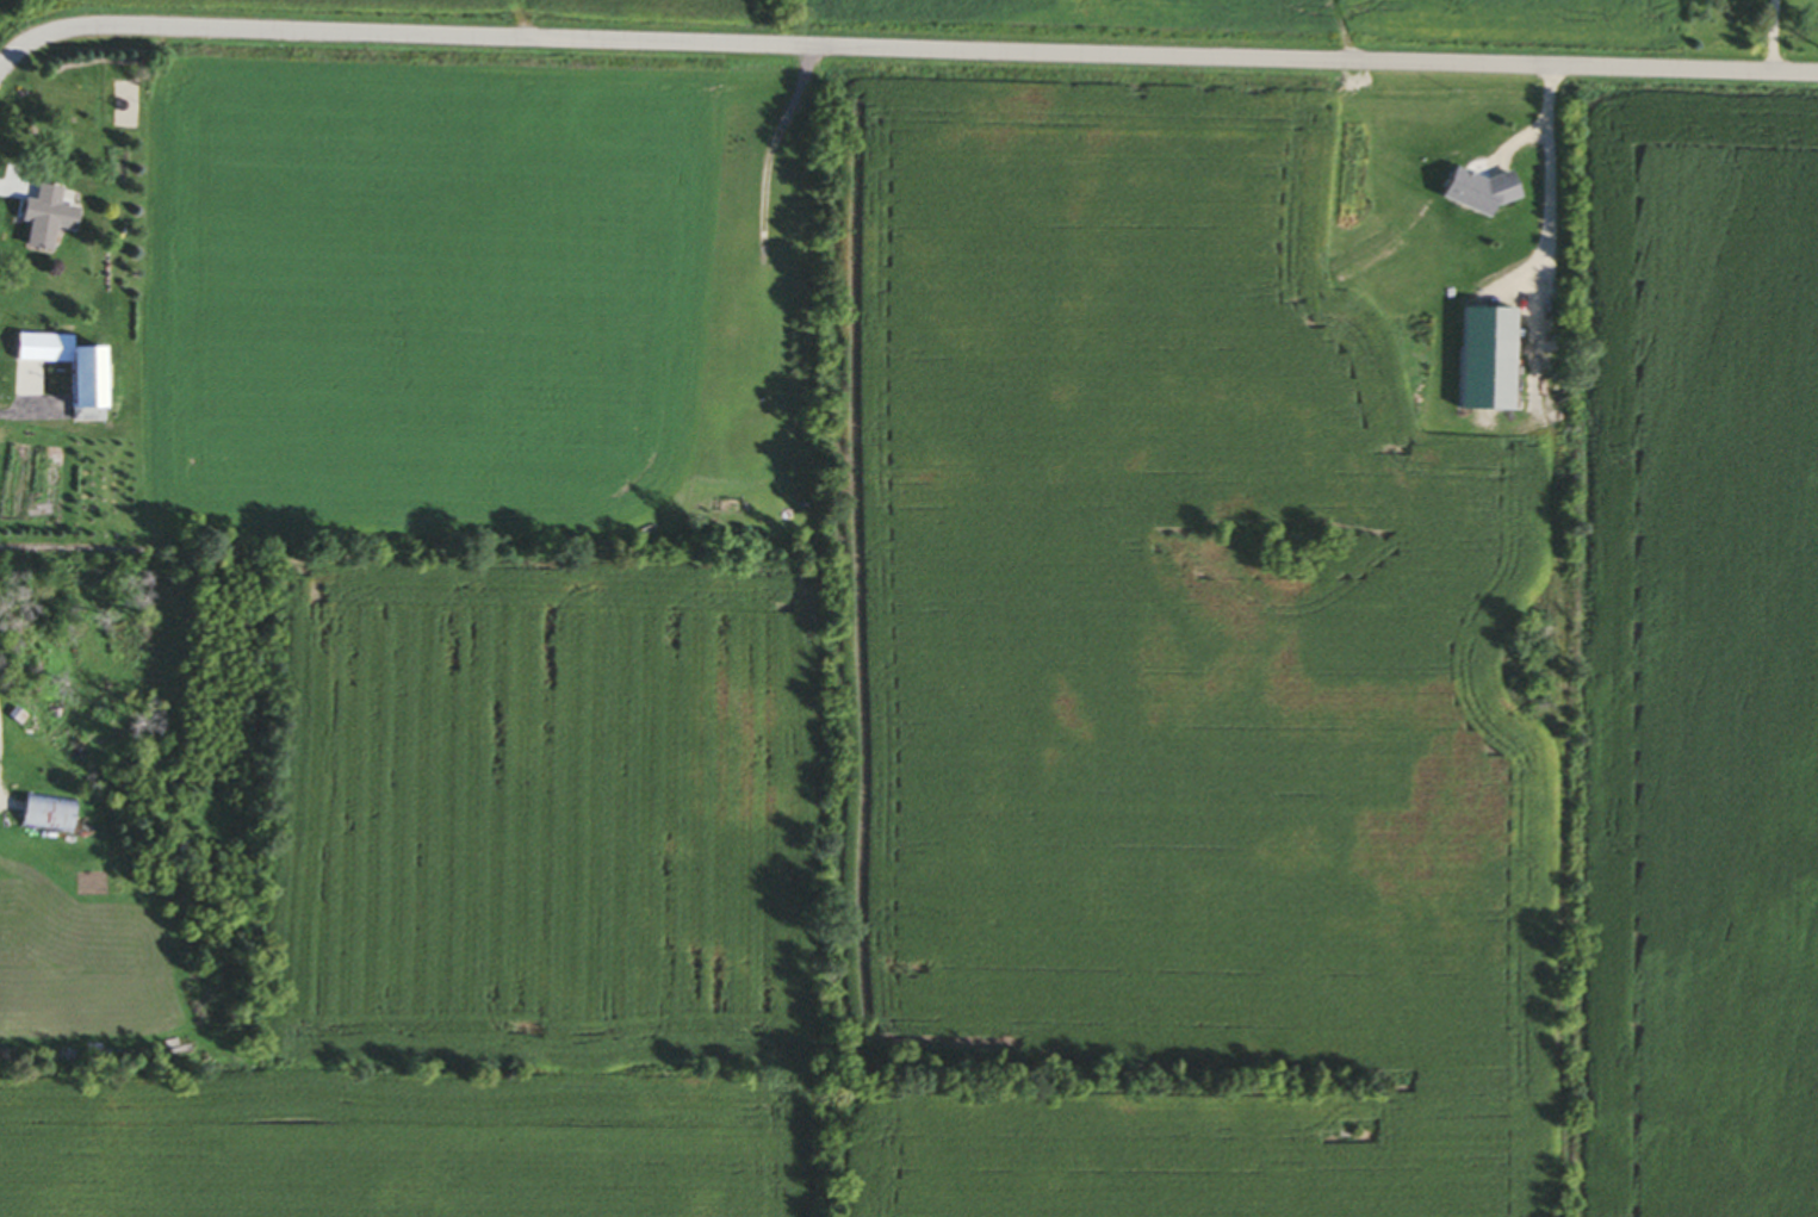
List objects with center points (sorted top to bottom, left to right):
road: (902, 50)
road: (1550, 197)
building: (49, 217)
building: (49, 347)
building: (97, 381)
road: (29, 411)
building: (52, 813)

